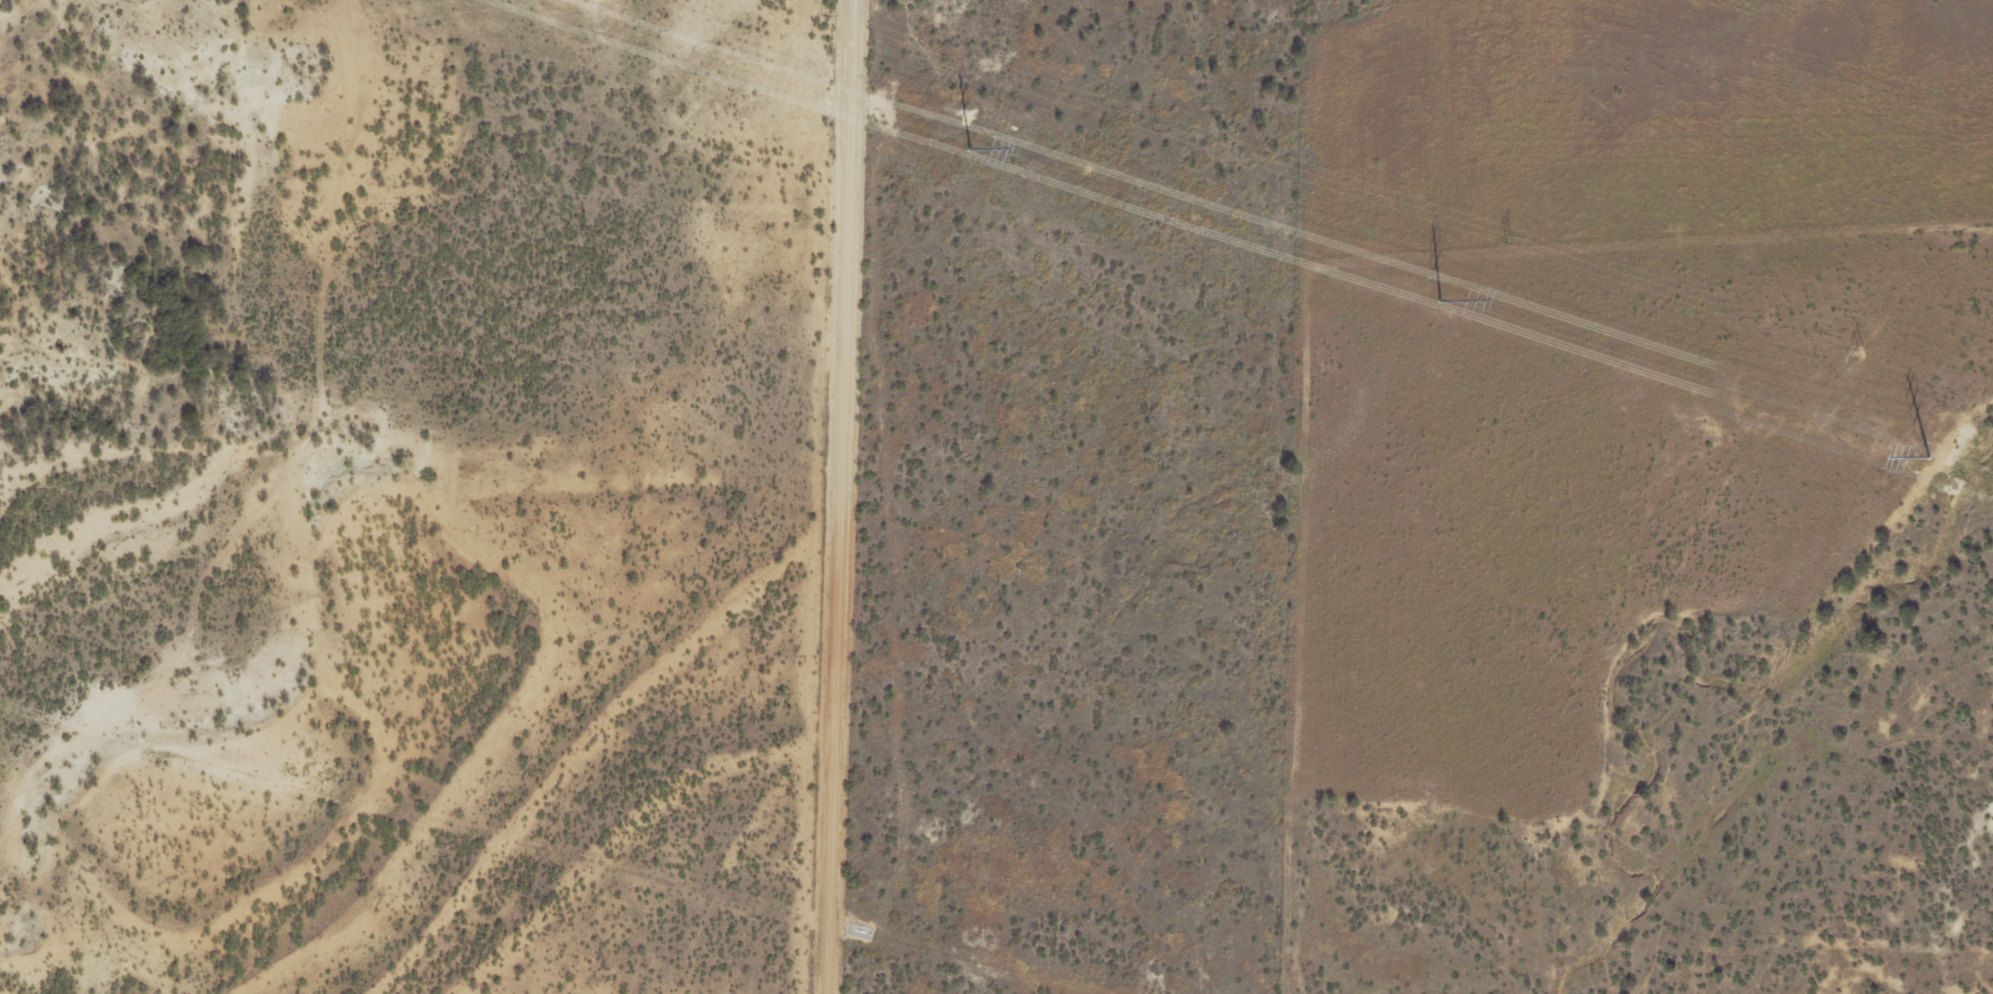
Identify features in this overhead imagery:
power tower: (820, 19)
power tower: (1152, 127)
power tower: (968, 148)
power tower: (1506, 239)
power tower: (1442, 301)
power tower: (1859, 352)
power tower: (1929, 456)
road: (843, 497)

